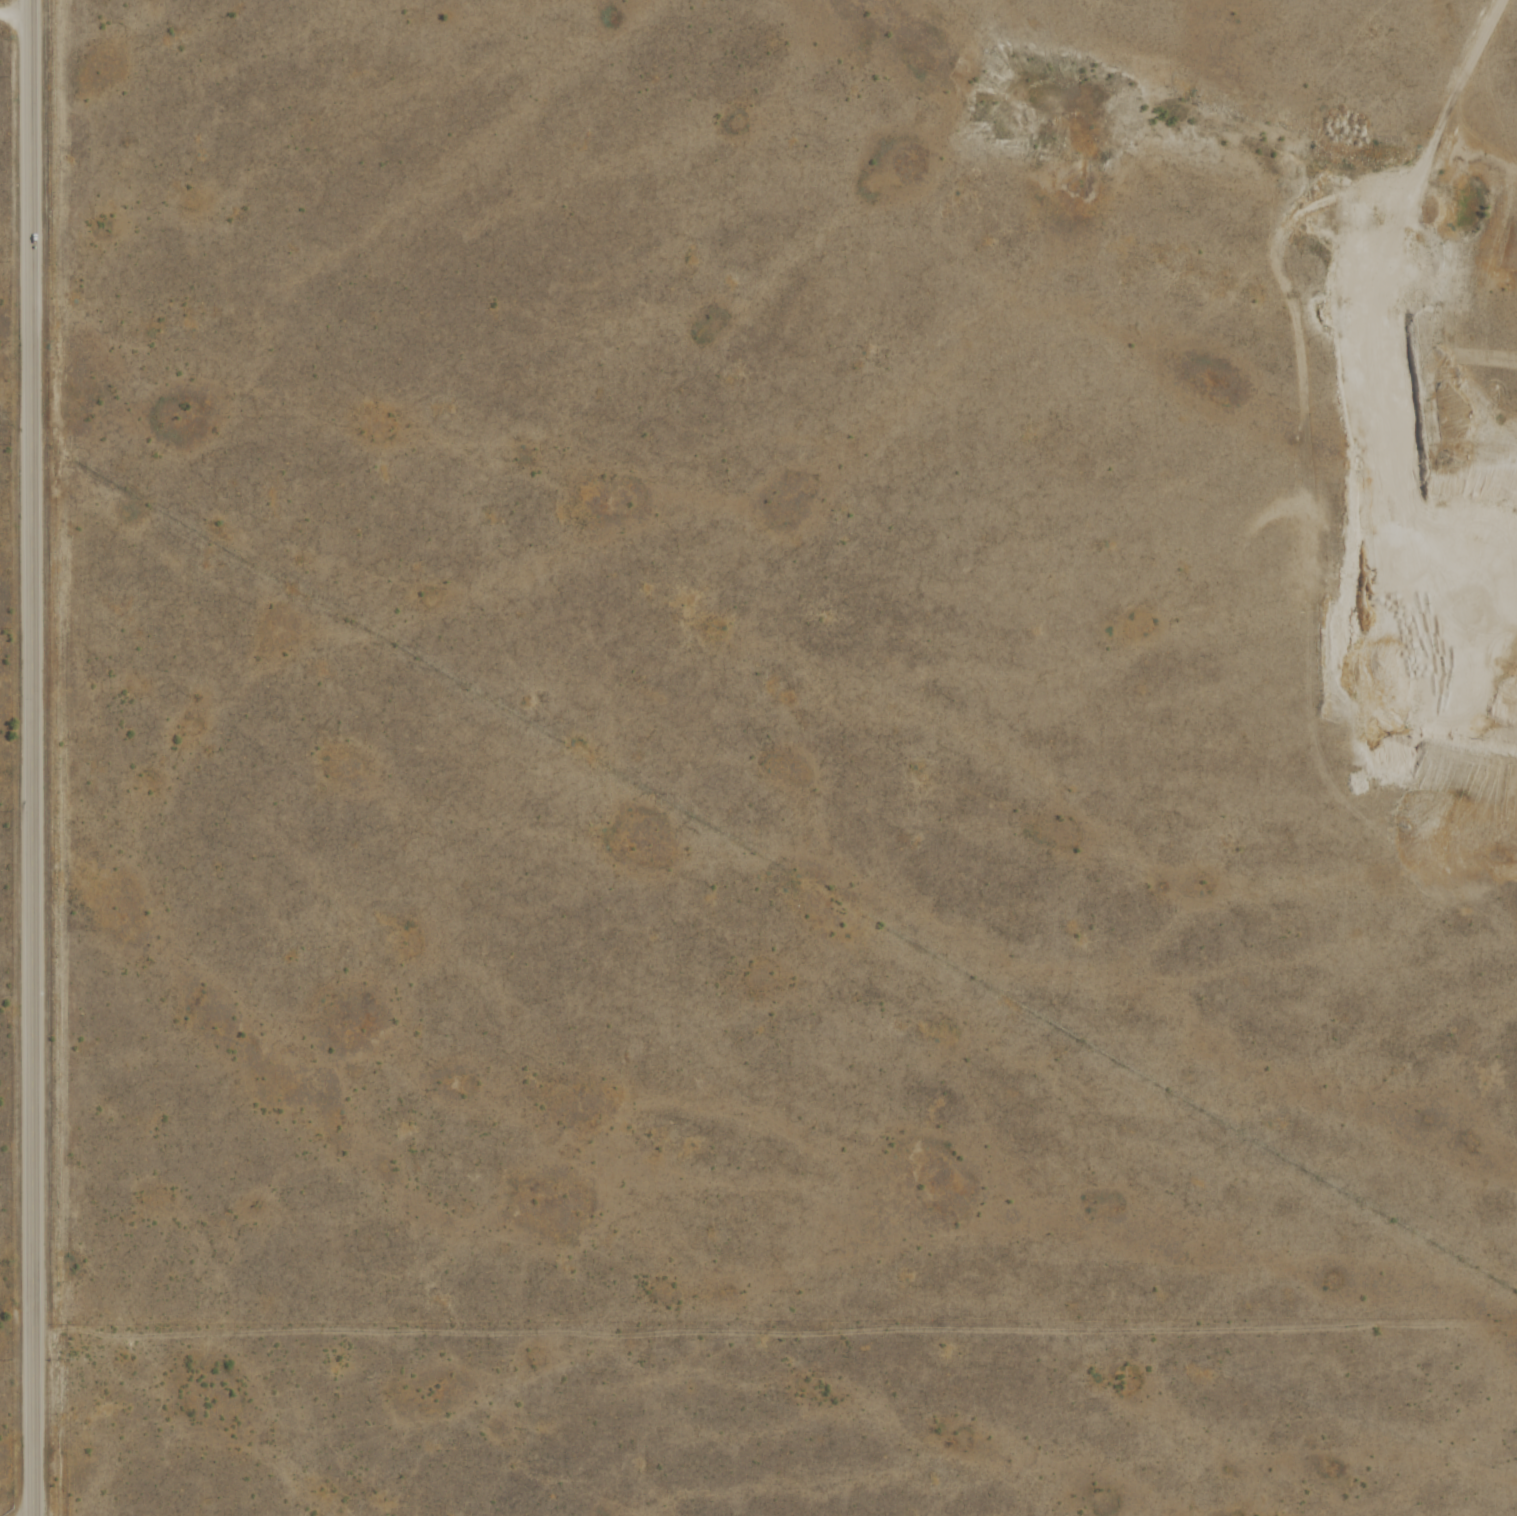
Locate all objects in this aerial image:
road: (18, 22)
road: (36, 757)

